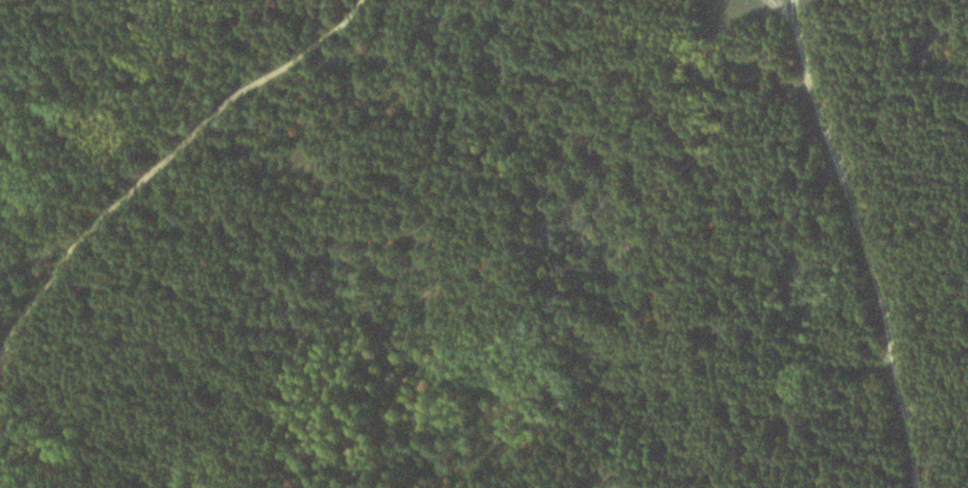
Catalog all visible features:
road: (155, 167)
road: (715, 226)
road: (867, 244)

